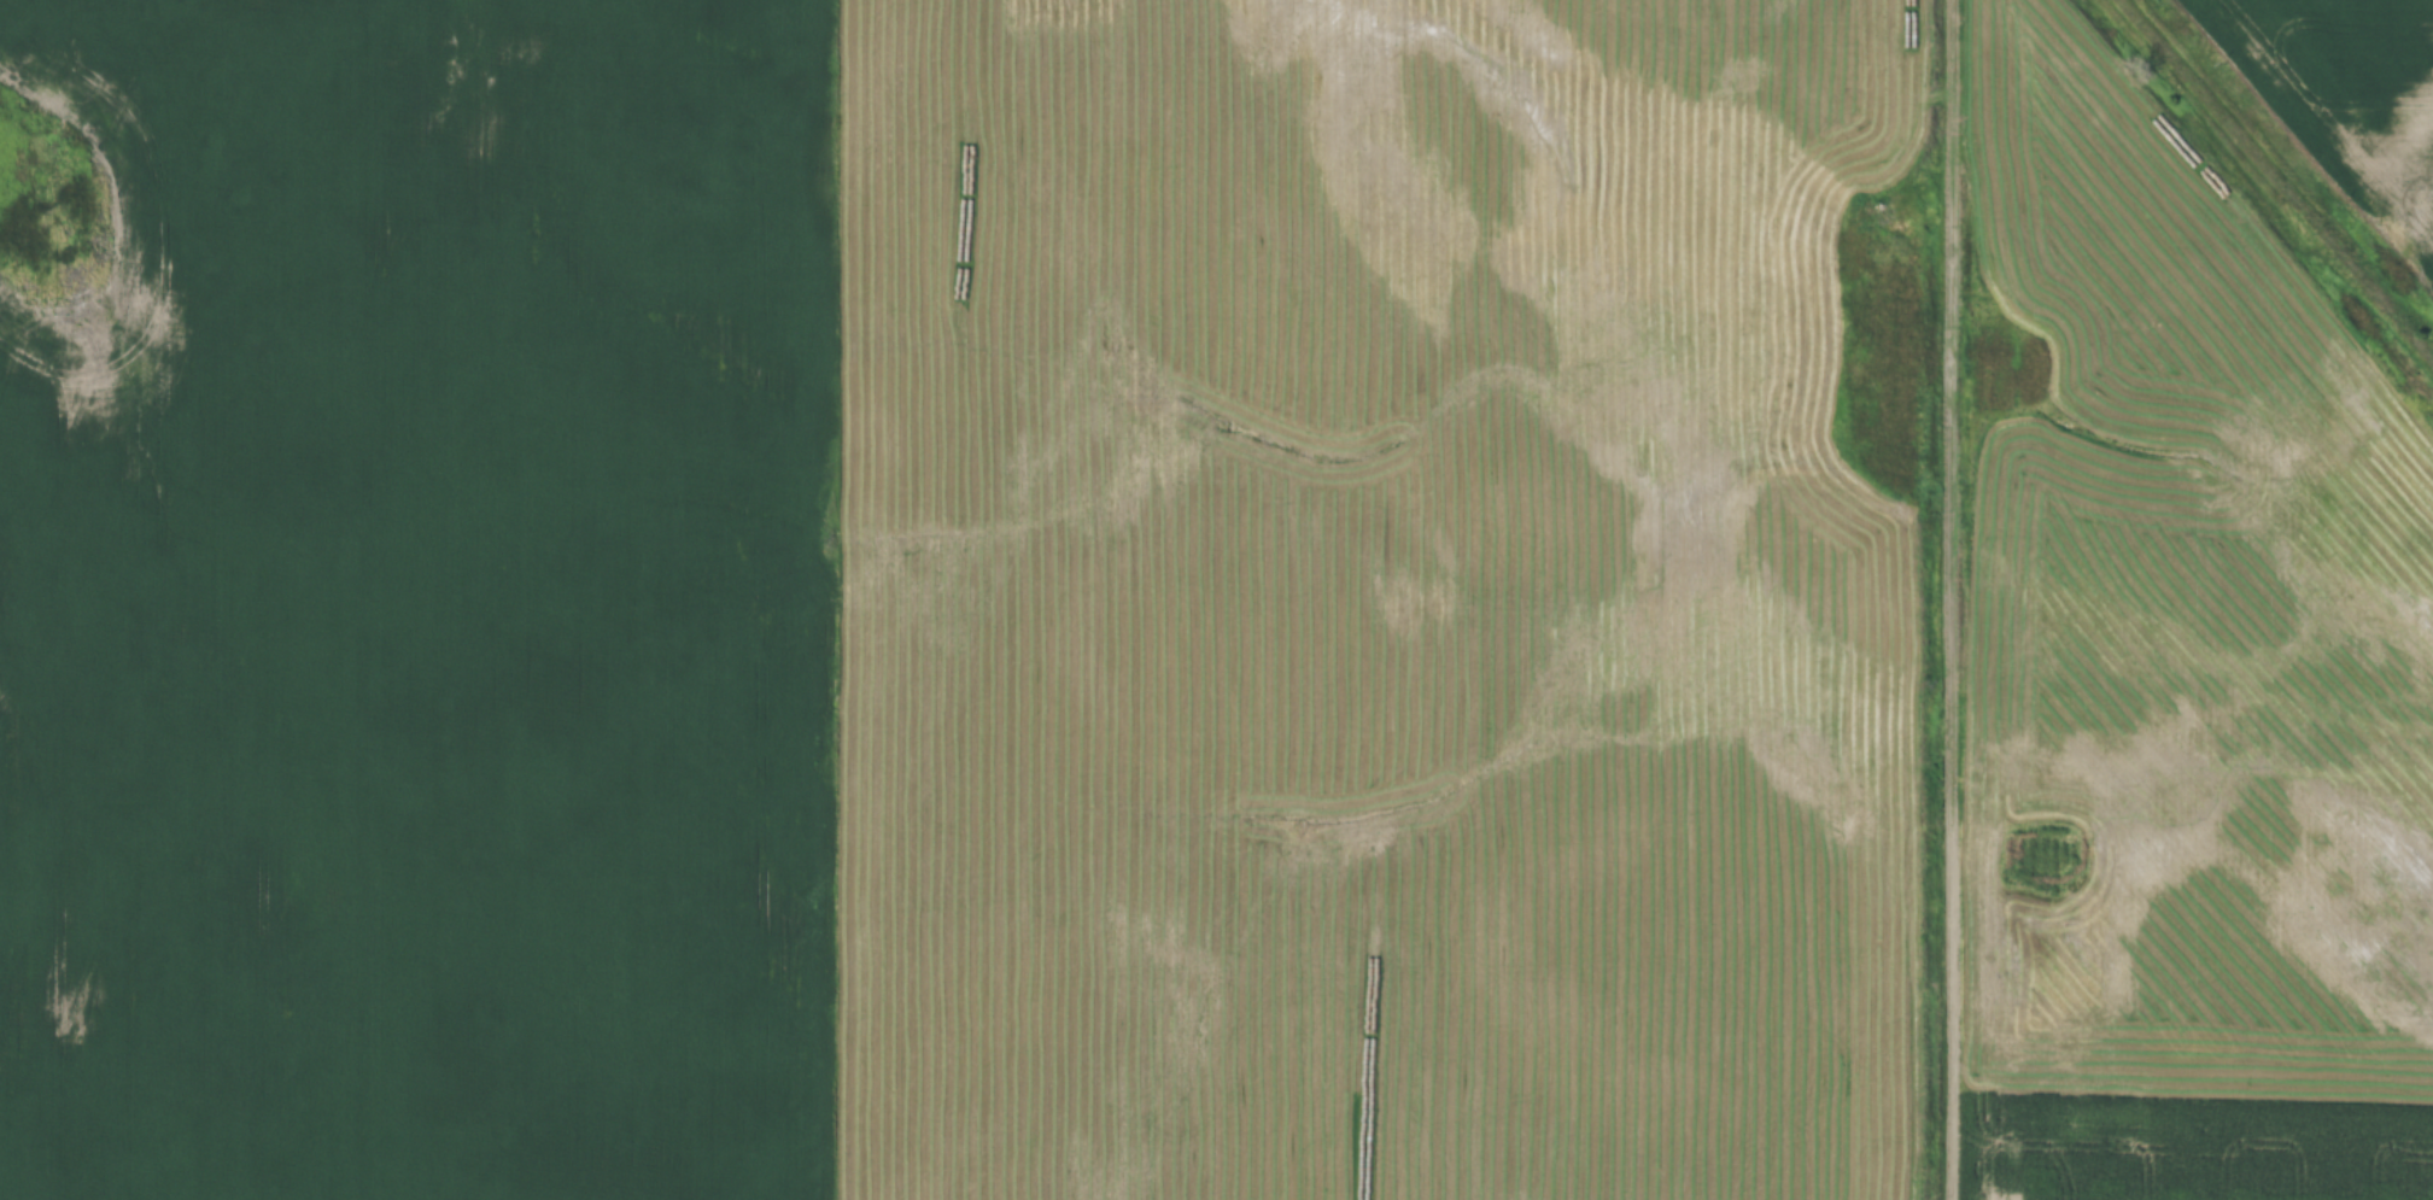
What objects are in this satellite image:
road: (1952, 599)

